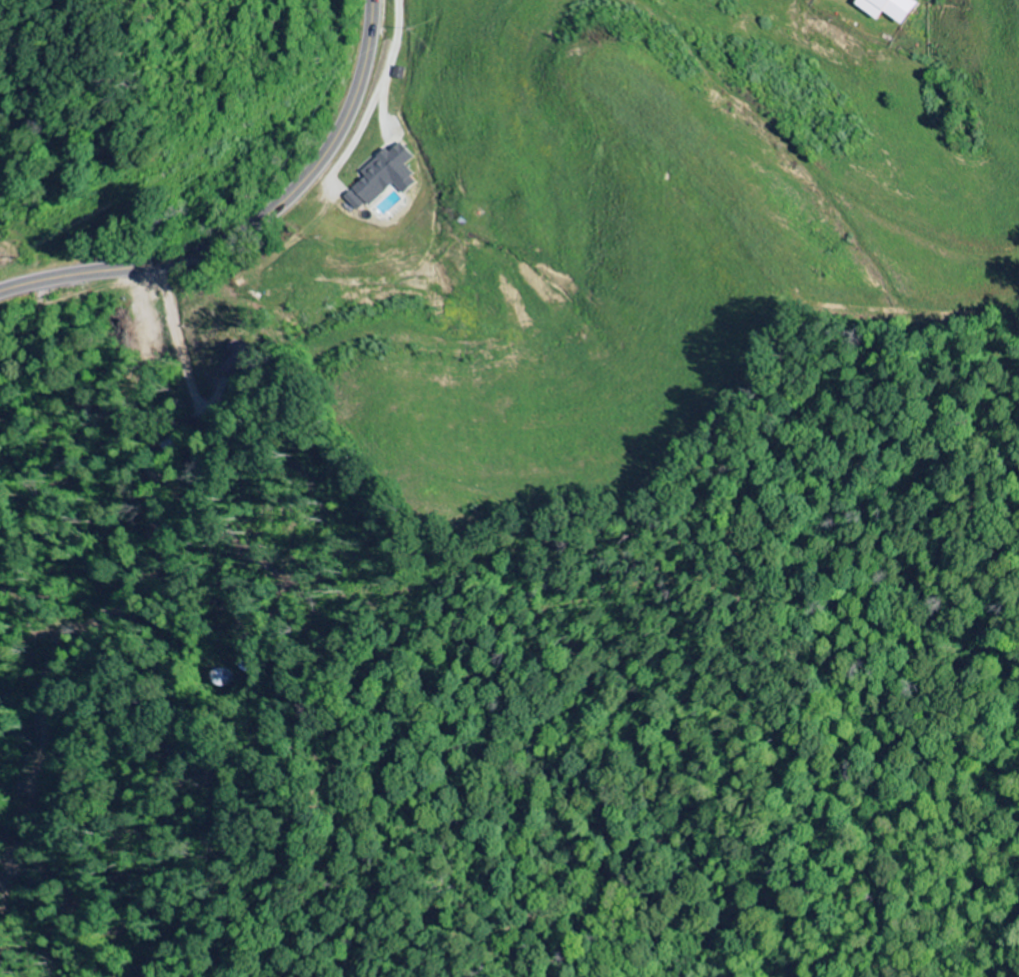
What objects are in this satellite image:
building: (895, 9)
building: (388, 175)
building: (355, 201)
road: (251, 223)
building: (0, 257)

